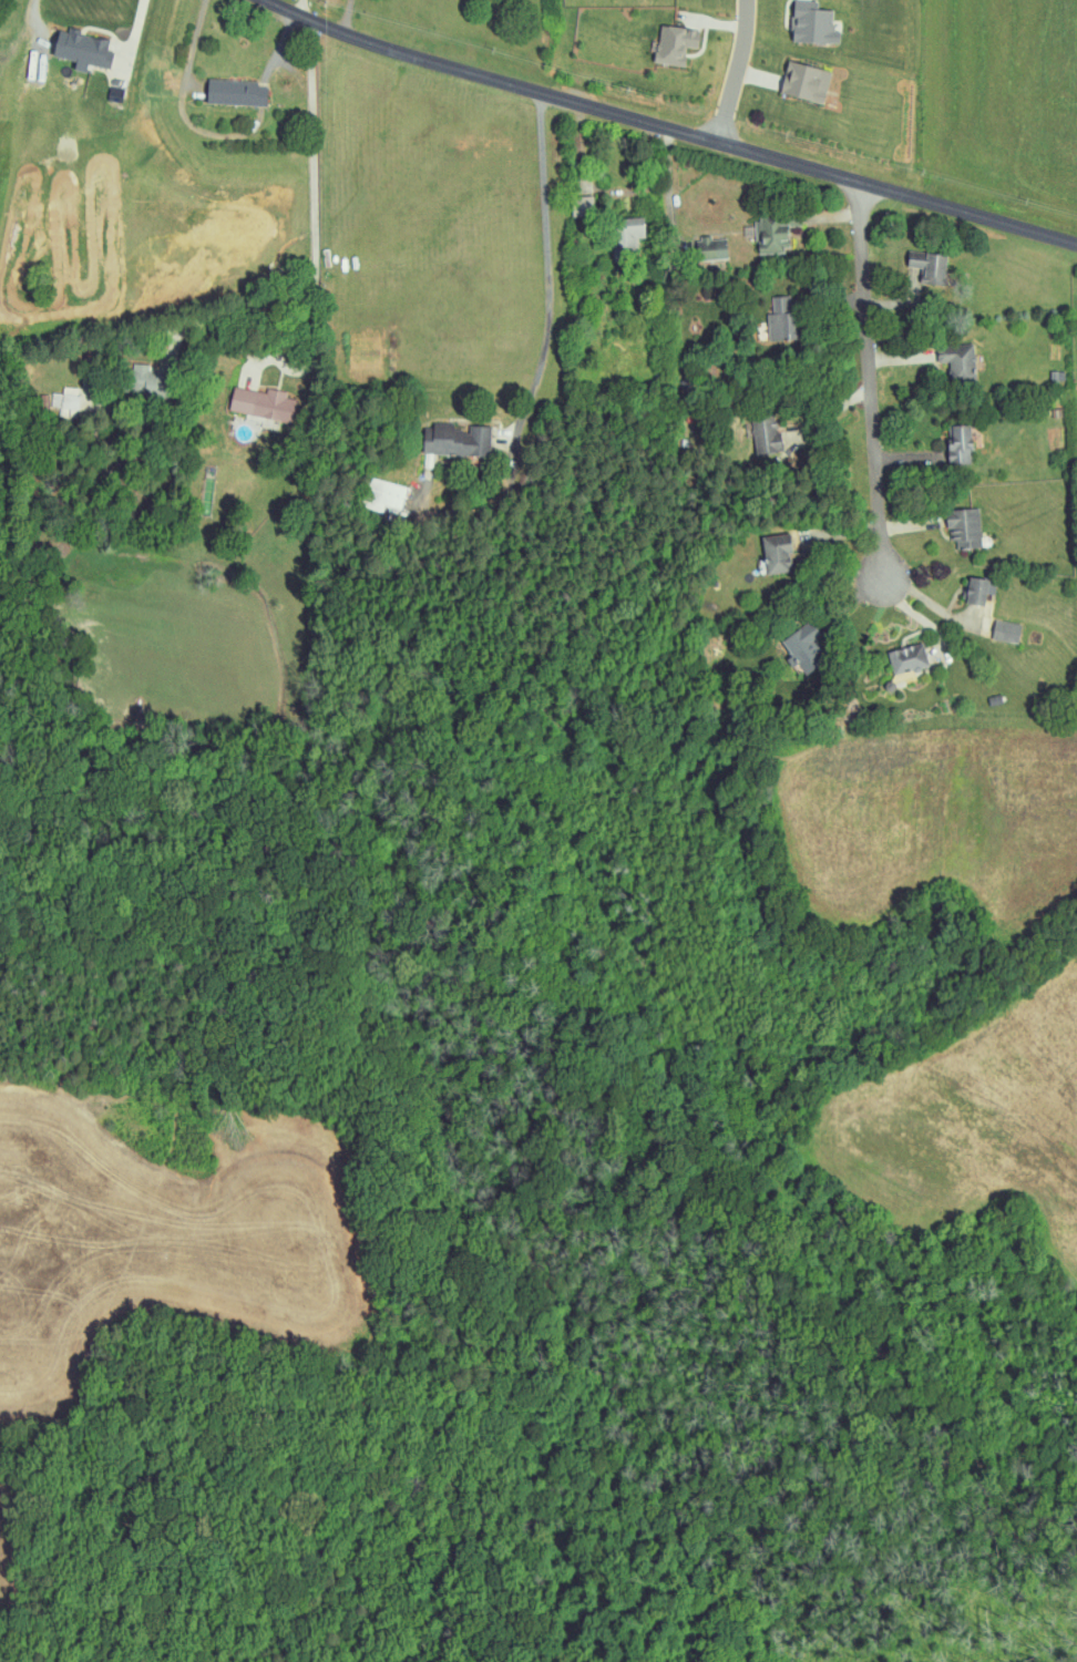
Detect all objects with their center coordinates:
road: (304, 8)
road: (343, 16)
road: (31, 21)
road: (135, 25)
building: (813, 25)
building: (675, 43)
road: (252, 45)
building: (82, 49)
road: (735, 72)
building: (804, 82)
building: (158, 84)
building: (235, 92)
road: (668, 129)
road: (669, 193)
building: (582, 205)
road: (322, 211)
road: (833, 215)
building: (773, 233)
building: (626, 236)
building: (711, 248)
building: (931, 267)
road: (547, 286)
road: (828, 301)
road: (901, 302)
building: (781, 319)
road: (310, 322)
road: (901, 358)
building: (957, 361)
building: (142, 381)
building: (65, 400)
building: (263, 403)
road: (831, 411)
road: (873, 434)
building: (770, 437)
building: (455, 440)
building: (960, 444)
road: (912, 460)
building: (386, 494)
road: (913, 524)
building: (964, 527)
road: (838, 533)
building: (777, 554)
building: (977, 591)
road: (929, 599)
road: (843, 617)
building: (1006, 632)
building: (802, 648)
building: (907, 659)

